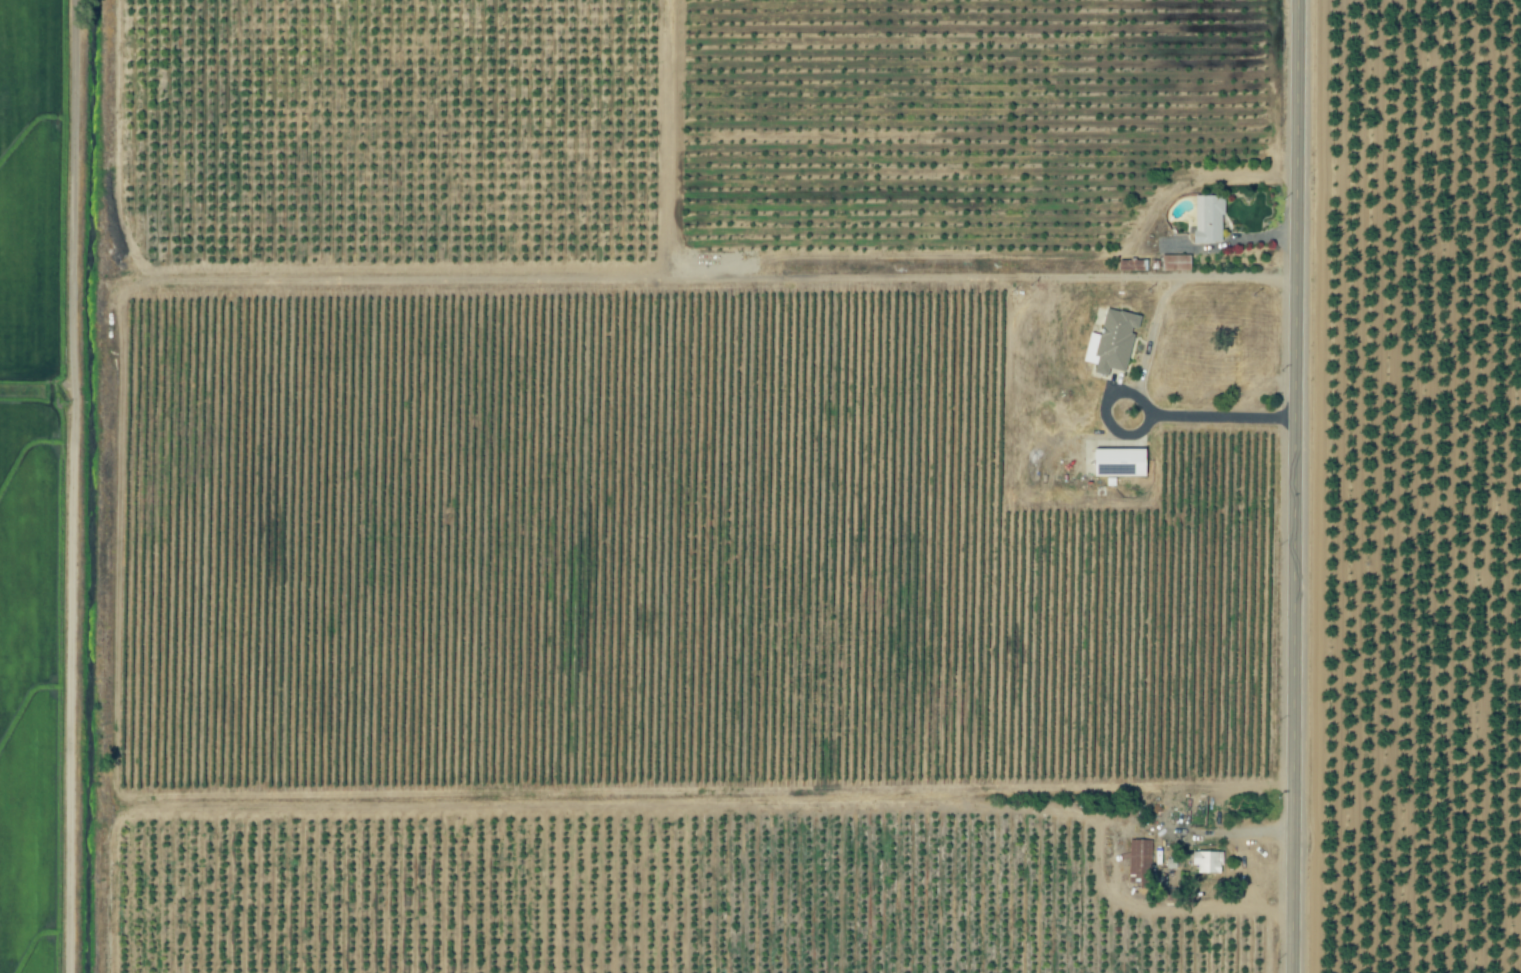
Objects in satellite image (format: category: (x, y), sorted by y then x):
building: (1208, 220)
building: (1175, 263)
building: (1133, 265)
road: (789, 271)
building: (1112, 341)
road: (1147, 357)
building: (1119, 462)
road: (1292, 486)
building: (1140, 857)
building: (1208, 862)

